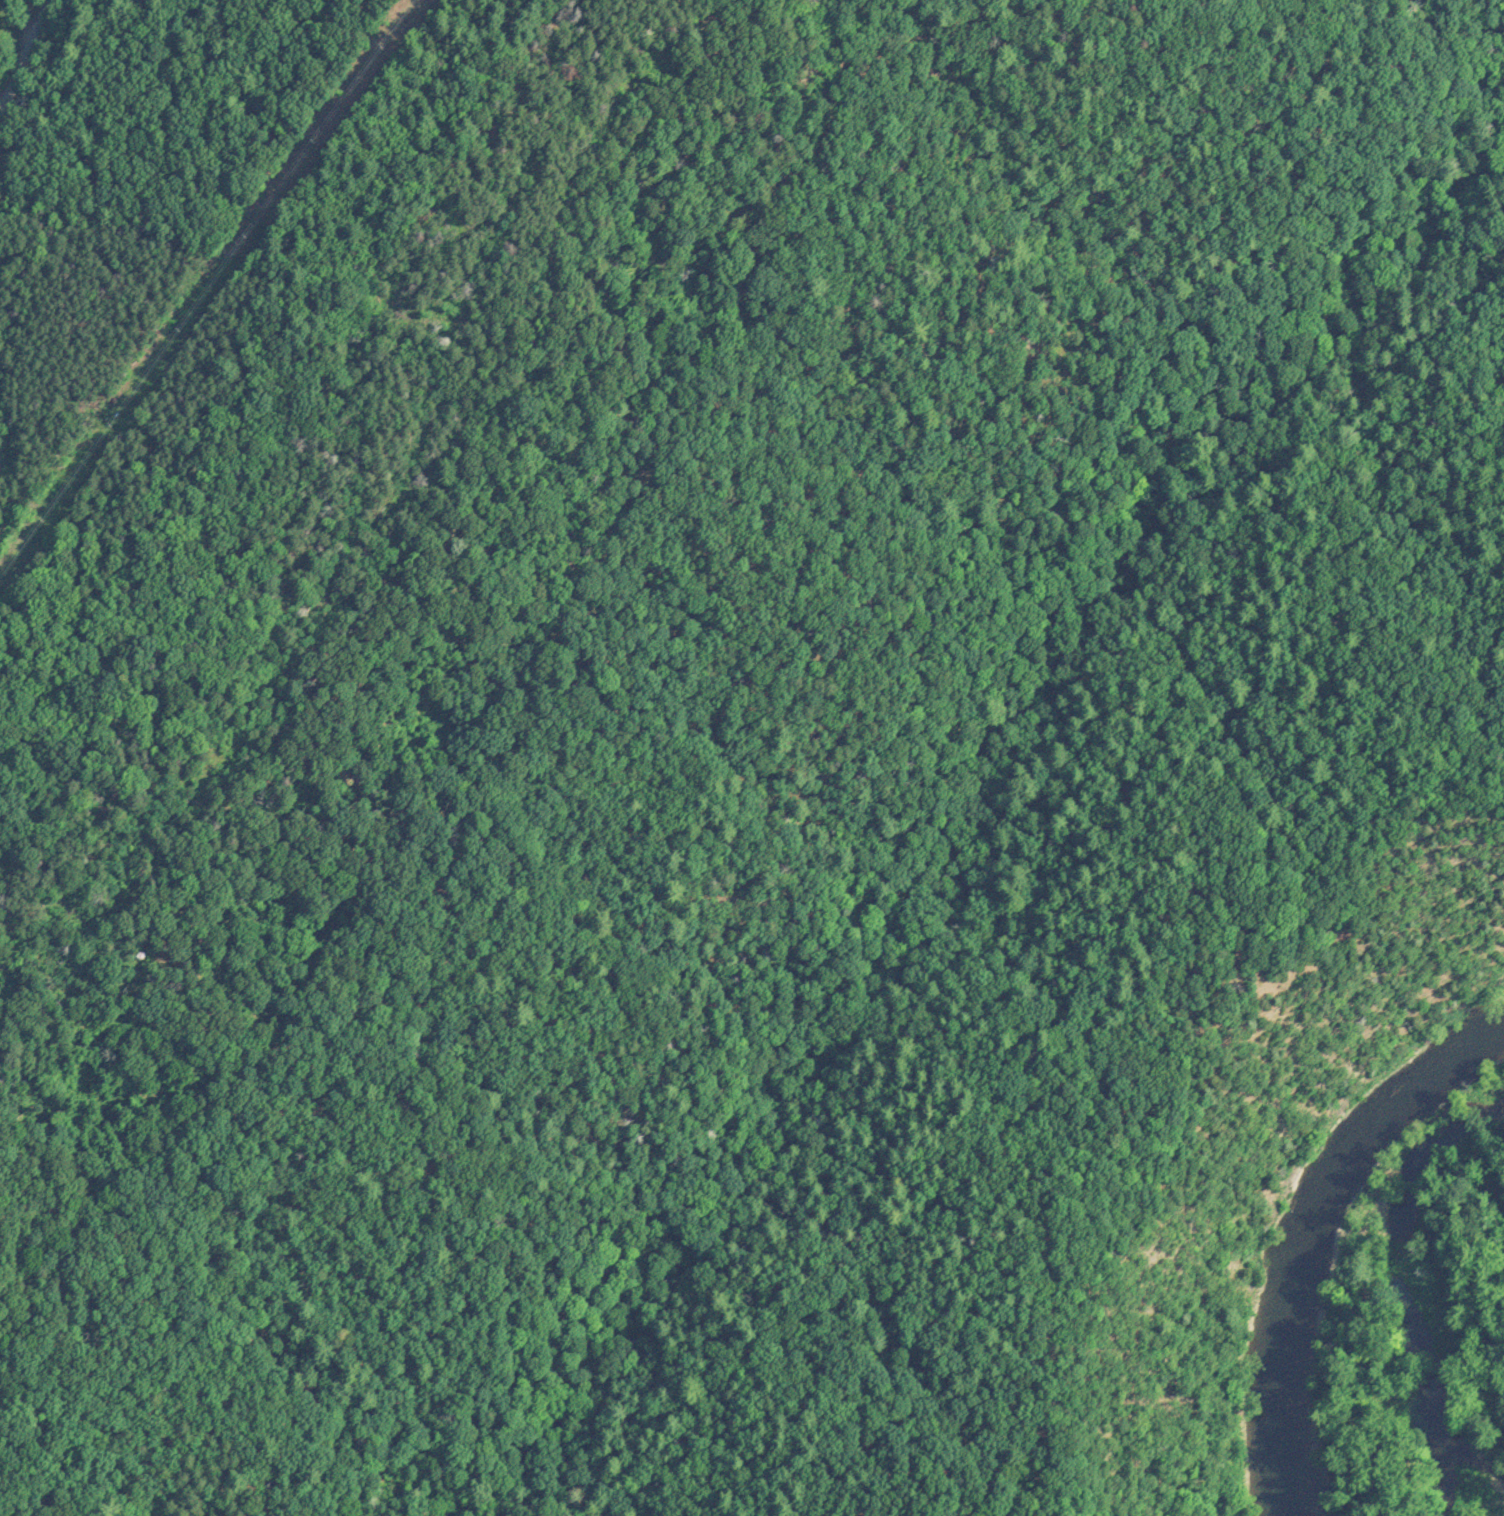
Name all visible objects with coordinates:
road: (10, 87)
river: (1320, 1236)

